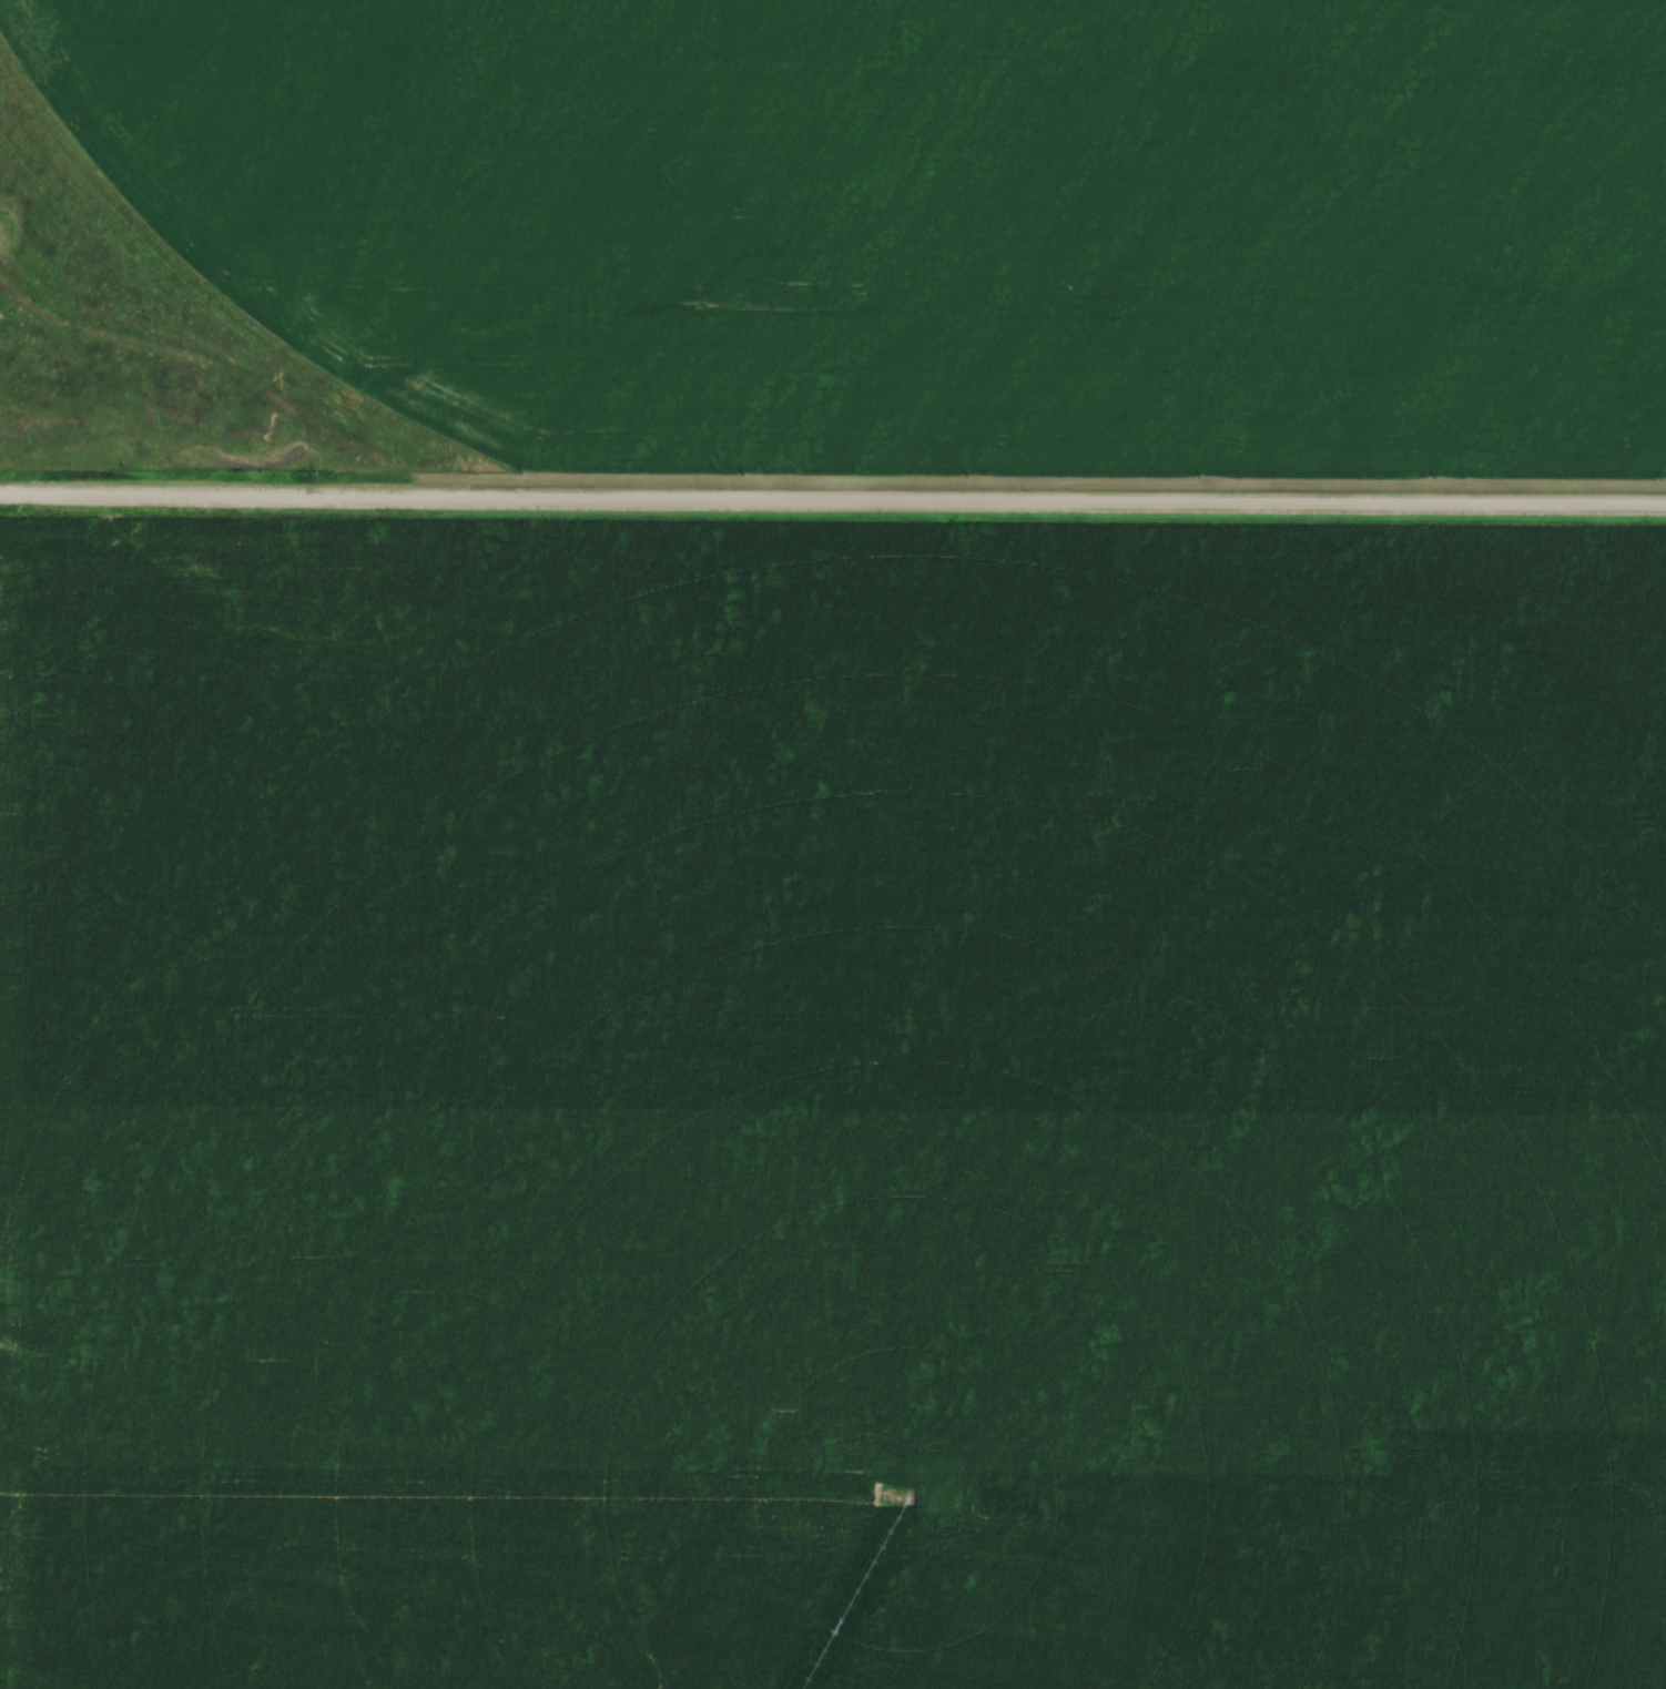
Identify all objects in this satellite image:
road: (832, 503)

